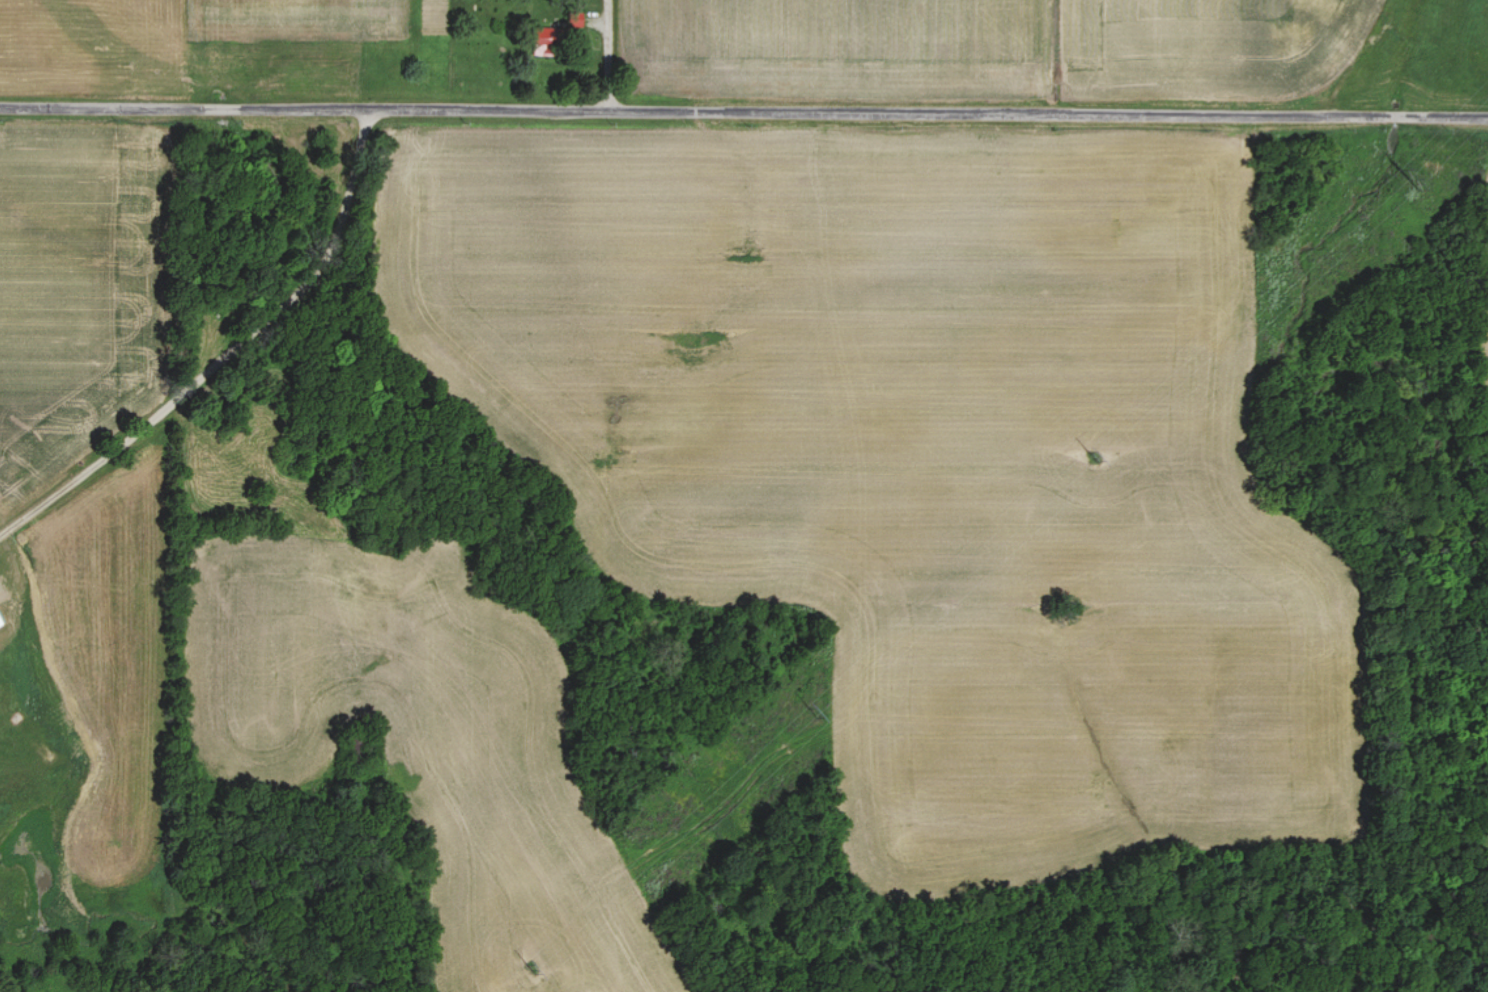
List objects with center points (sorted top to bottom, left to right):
road: (611, 49)
road: (744, 110)
power tower: (1405, 179)
road: (230, 355)
power tower: (1091, 458)
power tower: (811, 713)
power tower: (528, 968)

